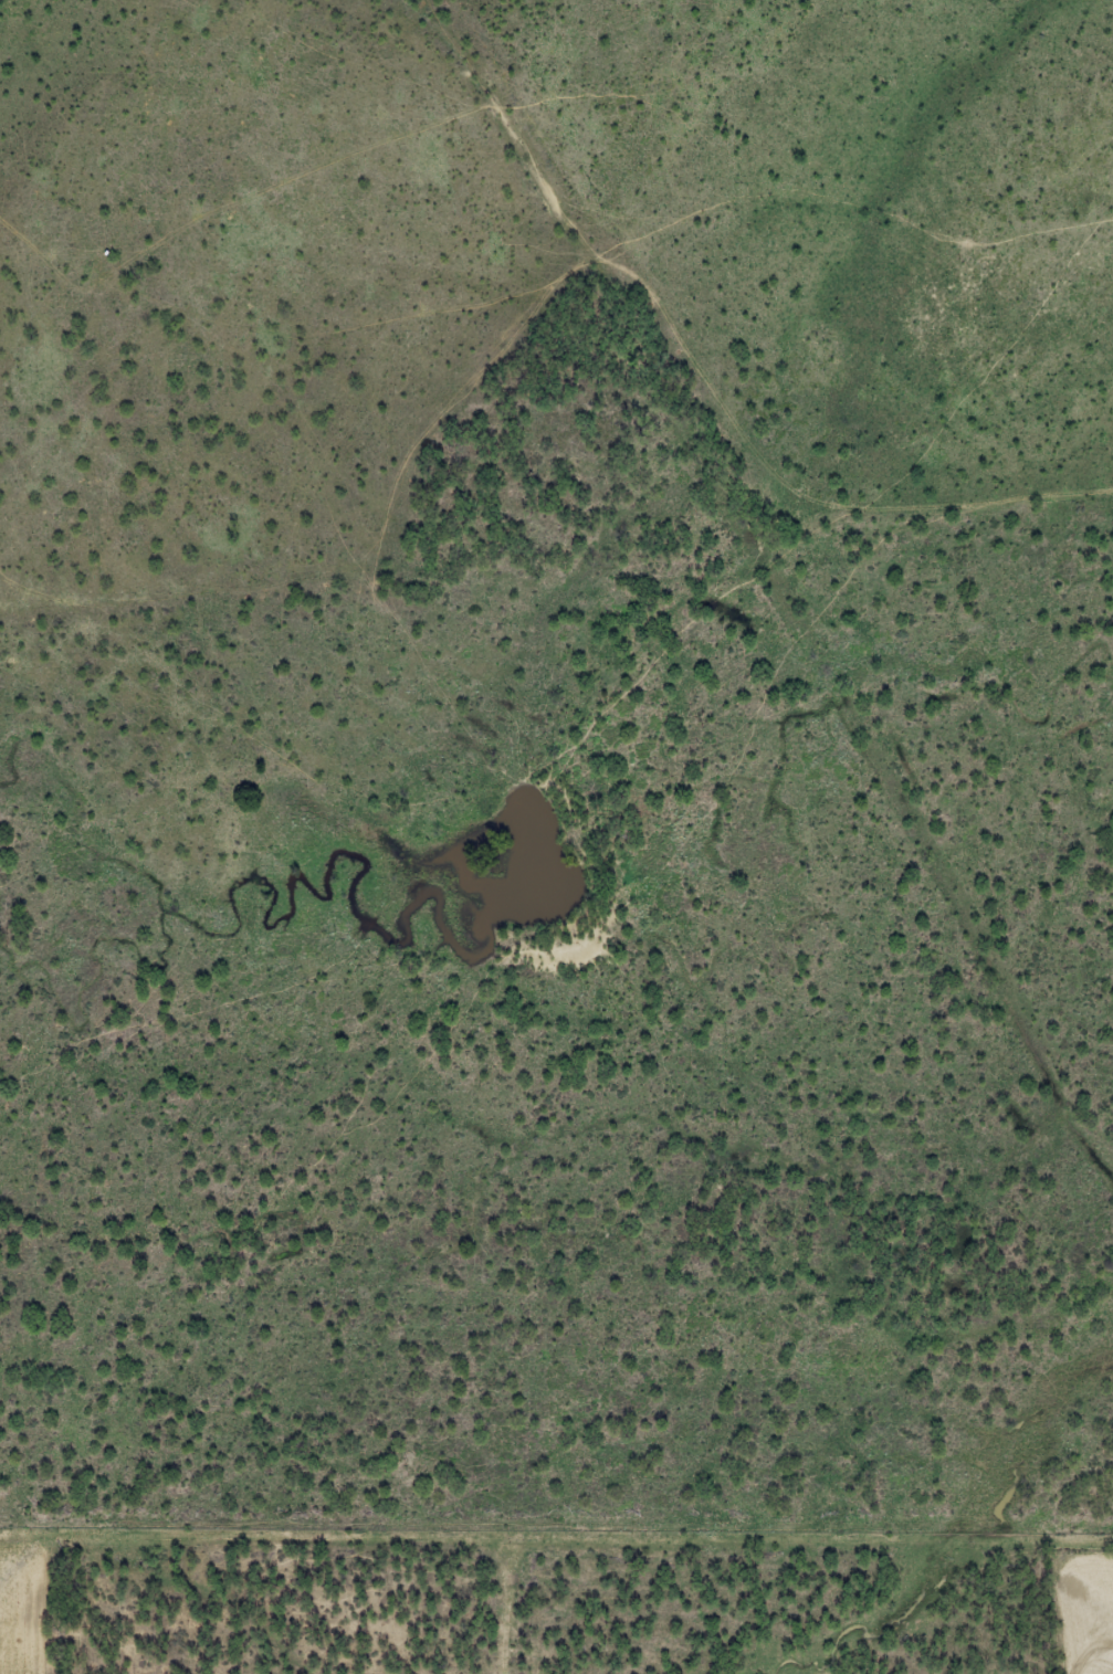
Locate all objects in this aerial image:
road: (1065, 1301)

